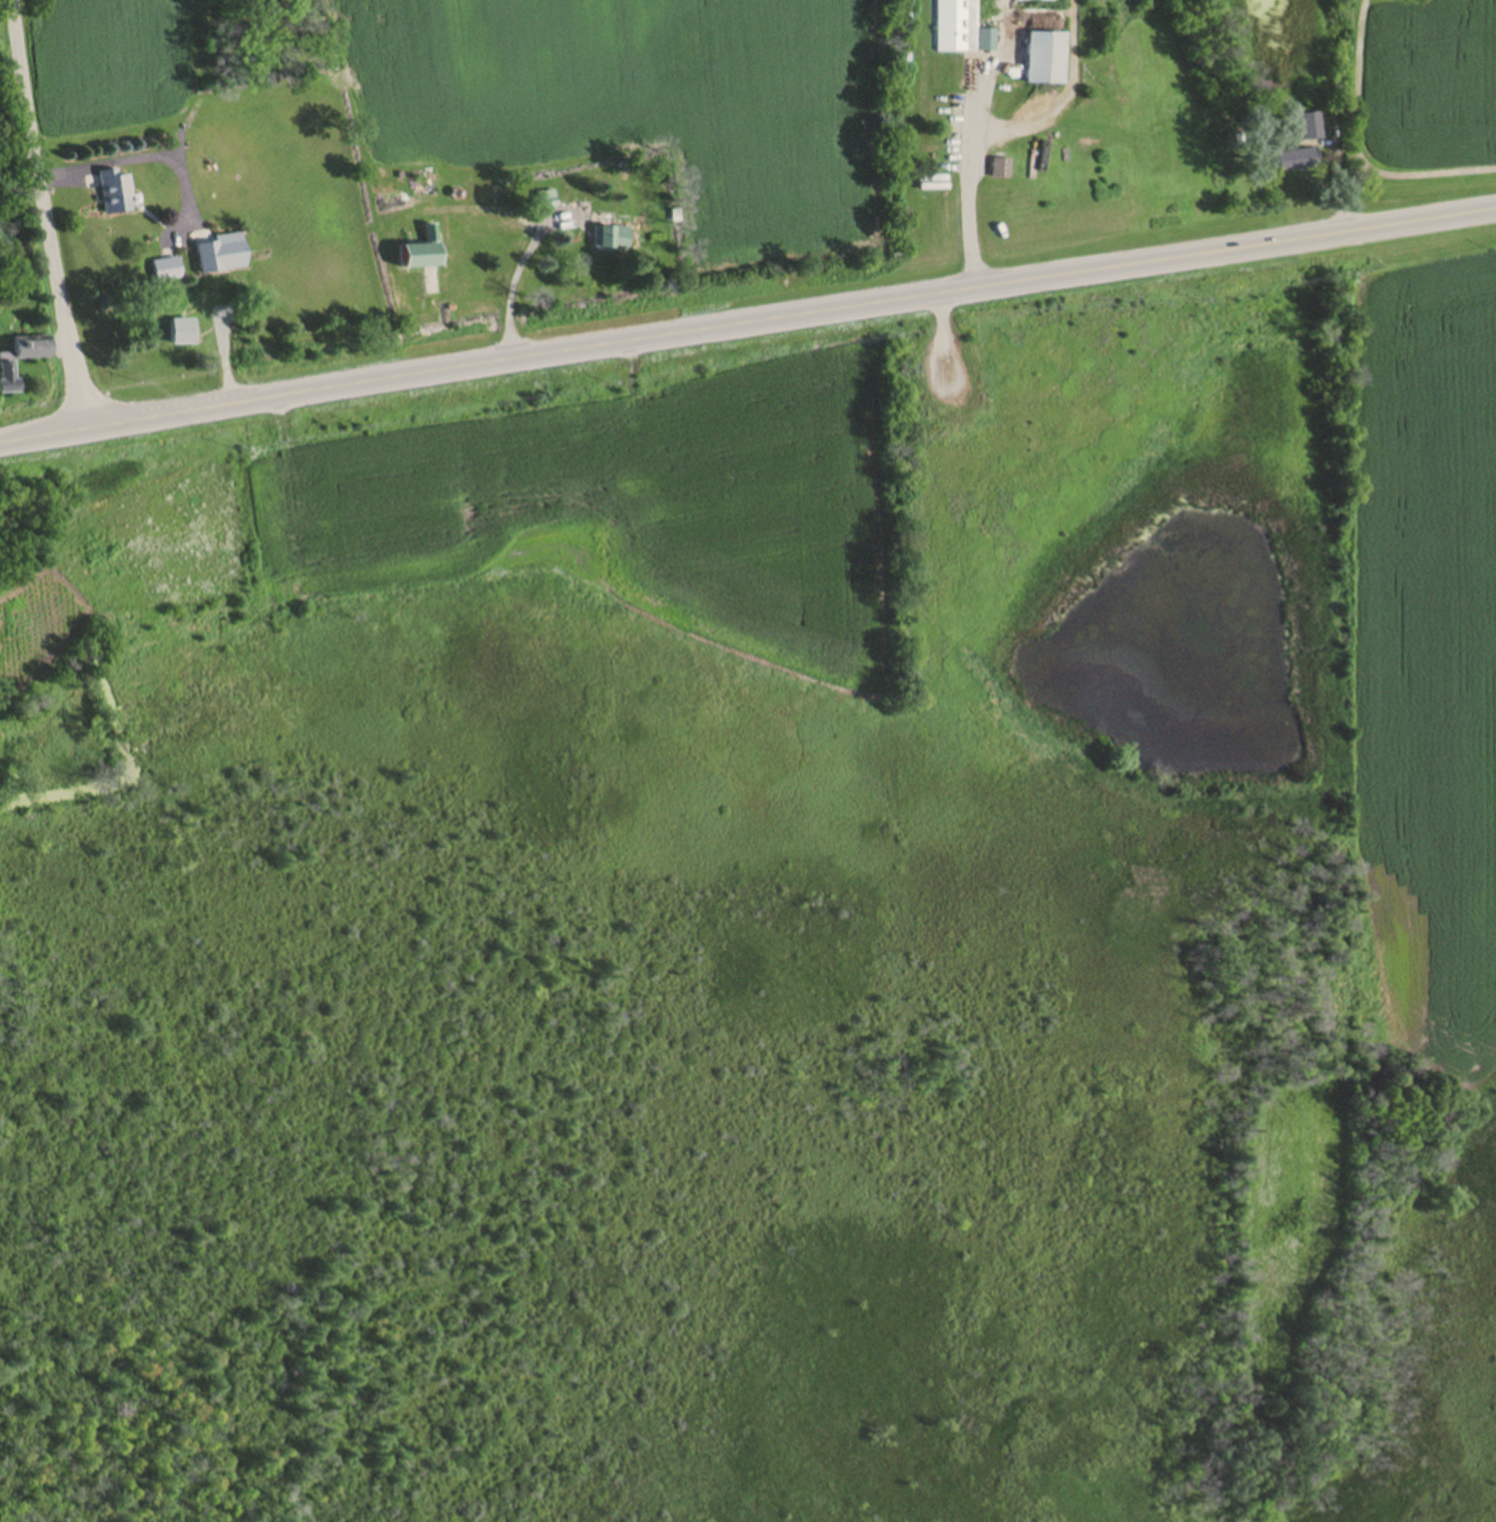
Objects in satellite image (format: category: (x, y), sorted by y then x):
building: (957, 27)
building: (1045, 62)
building: (1308, 130)
road: (129, 154)
building: (1297, 162)
building: (1001, 171)
building: (425, 184)
road: (971, 185)
building: (113, 194)
building: (547, 202)
road: (484, 206)
road: (42, 217)
building: (611, 240)
building: (420, 253)
building: (220, 256)
building: (165, 272)
road: (508, 278)
road: (747, 326)
building: (180, 334)
building: (19, 361)

